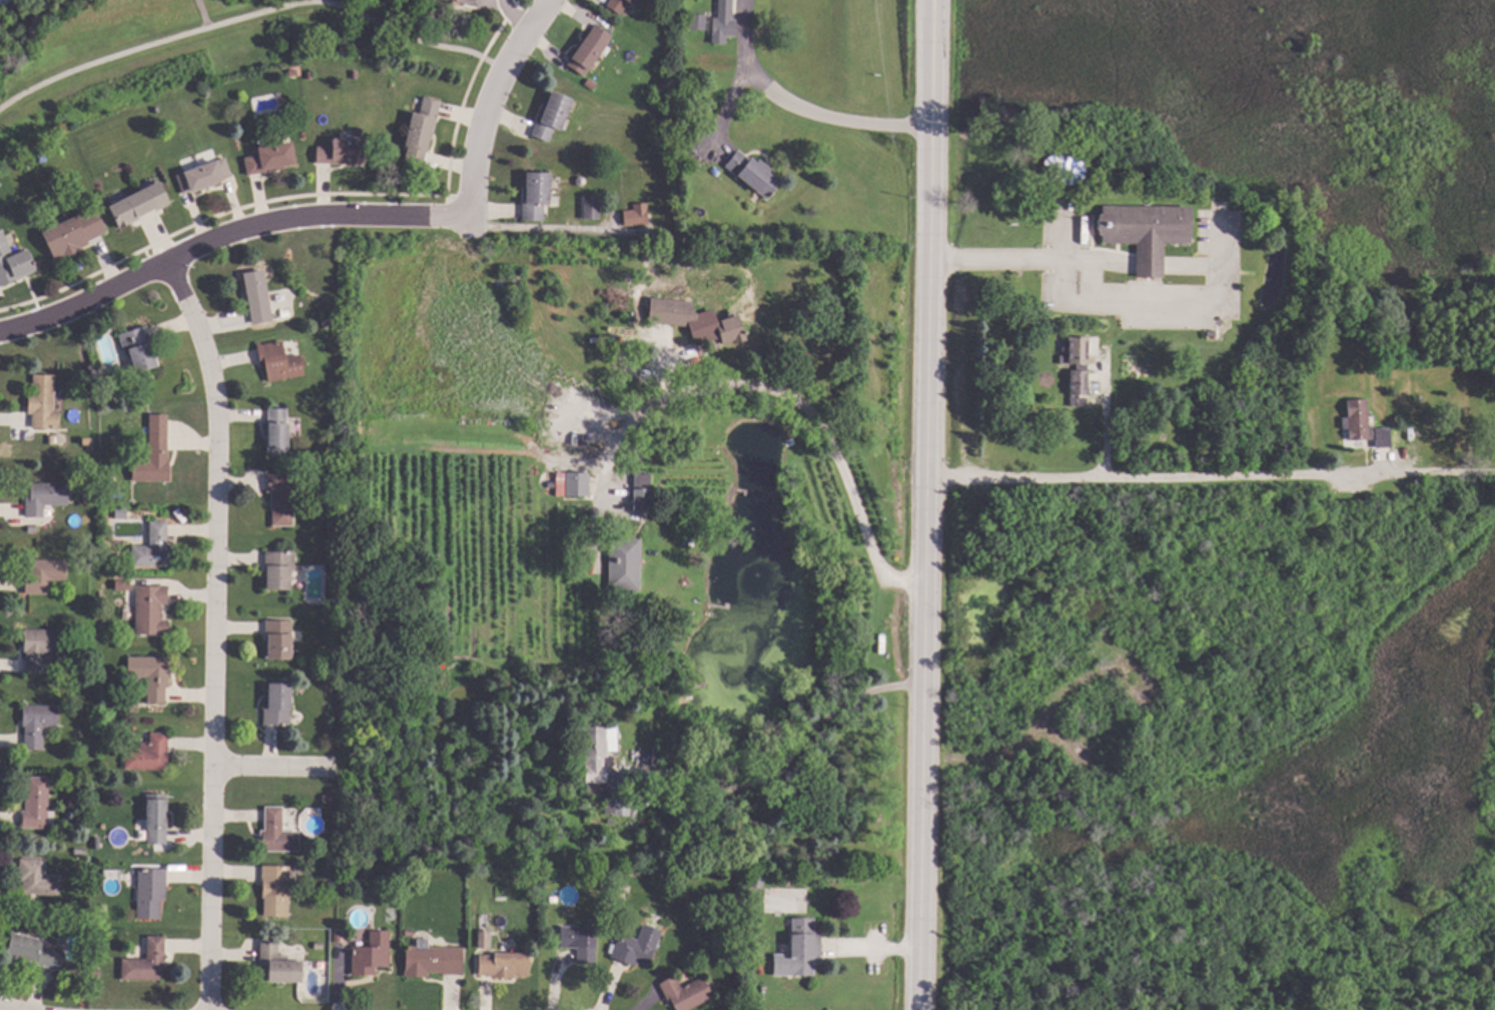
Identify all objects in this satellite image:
building: (469, 2)
building: (621, 4)
road: (201, 13)
road: (250, 15)
road: (515, 16)
building: (698, 21)
building: (724, 22)
building: (590, 49)
park: (186, 53)
building: (293, 72)
building: (355, 74)
building: (310, 75)
building: (590, 84)
building: (281, 100)
road: (489, 102)
road: (797, 110)
road: (721, 114)
building: (552, 115)
building: (418, 137)
building: (341, 151)
building: (271, 158)
building: (755, 173)
building: (204, 175)
building: (1153, 189)
building: (536, 195)
building: (139, 204)
building: (592, 207)
building: (636, 215)
building: (74, 233)
building: (1143, 233)
road: (225, 237)
building: (14, 264)
building: (258, 296)
road: (1093, 304)
building: (696, 320)
building: (1207, 334)
building: (140, 348)
building: (279, 361)
building: (1074, 368)
road: (928, 370)
building: (109, 398)
road: (793, 398)
building: (44, 403)
road: (1103, 417)
building: (1360, 425)
building: (279, 432)
building: (52, 439)
building: (335, 455)
building: (155, 457)
road: (1210, 475)
building: (111, 482)
building: (572, 483)
building: (642, 491)
building: (46, 497)
building: (282, 499)
building: (34, 528)
building: (154, 547)
building: (111, 563)
building: (624, 564)
building: (280, 569)
building: (44, 575)
building: (430, 576)
building: (423, 602)
building: (151, 610)
building: (129, 632)
road: (215, 632)
building: (279, 640)
building: (40, 647)
building: (151, 675)
building: (278, 704)
building: (134, 705)
building: (38, 723)
building: (149, 753)
building: (596, 754)
road: (785, 762)
road: (275, 769)
building: (328, 798)
building: (37, 804)
building: (623, 805)
building: (157, 818)
building: (277, 833)
building: (79, 851)
road: (920, 875)
building: (38, 878)
building: (757, 882)
building: (276, 890)
building: (151, 893)
building: (102, 909)
building: (409, 933)
building: (337, 937)
building: (483, 939)
building: (579, 942)
building: (318, 945)
building: (637, 946)
building: (805, 946)
building: (34, 951)
building: (372, 954)
building: (432, 960)
building: (146, 961)
building: (278, 965)
building: (504, 965)
building: (97, 971)
building: (77, 980)
road: (606, 988)
building: (685, 993)
road: (2, 1008)

